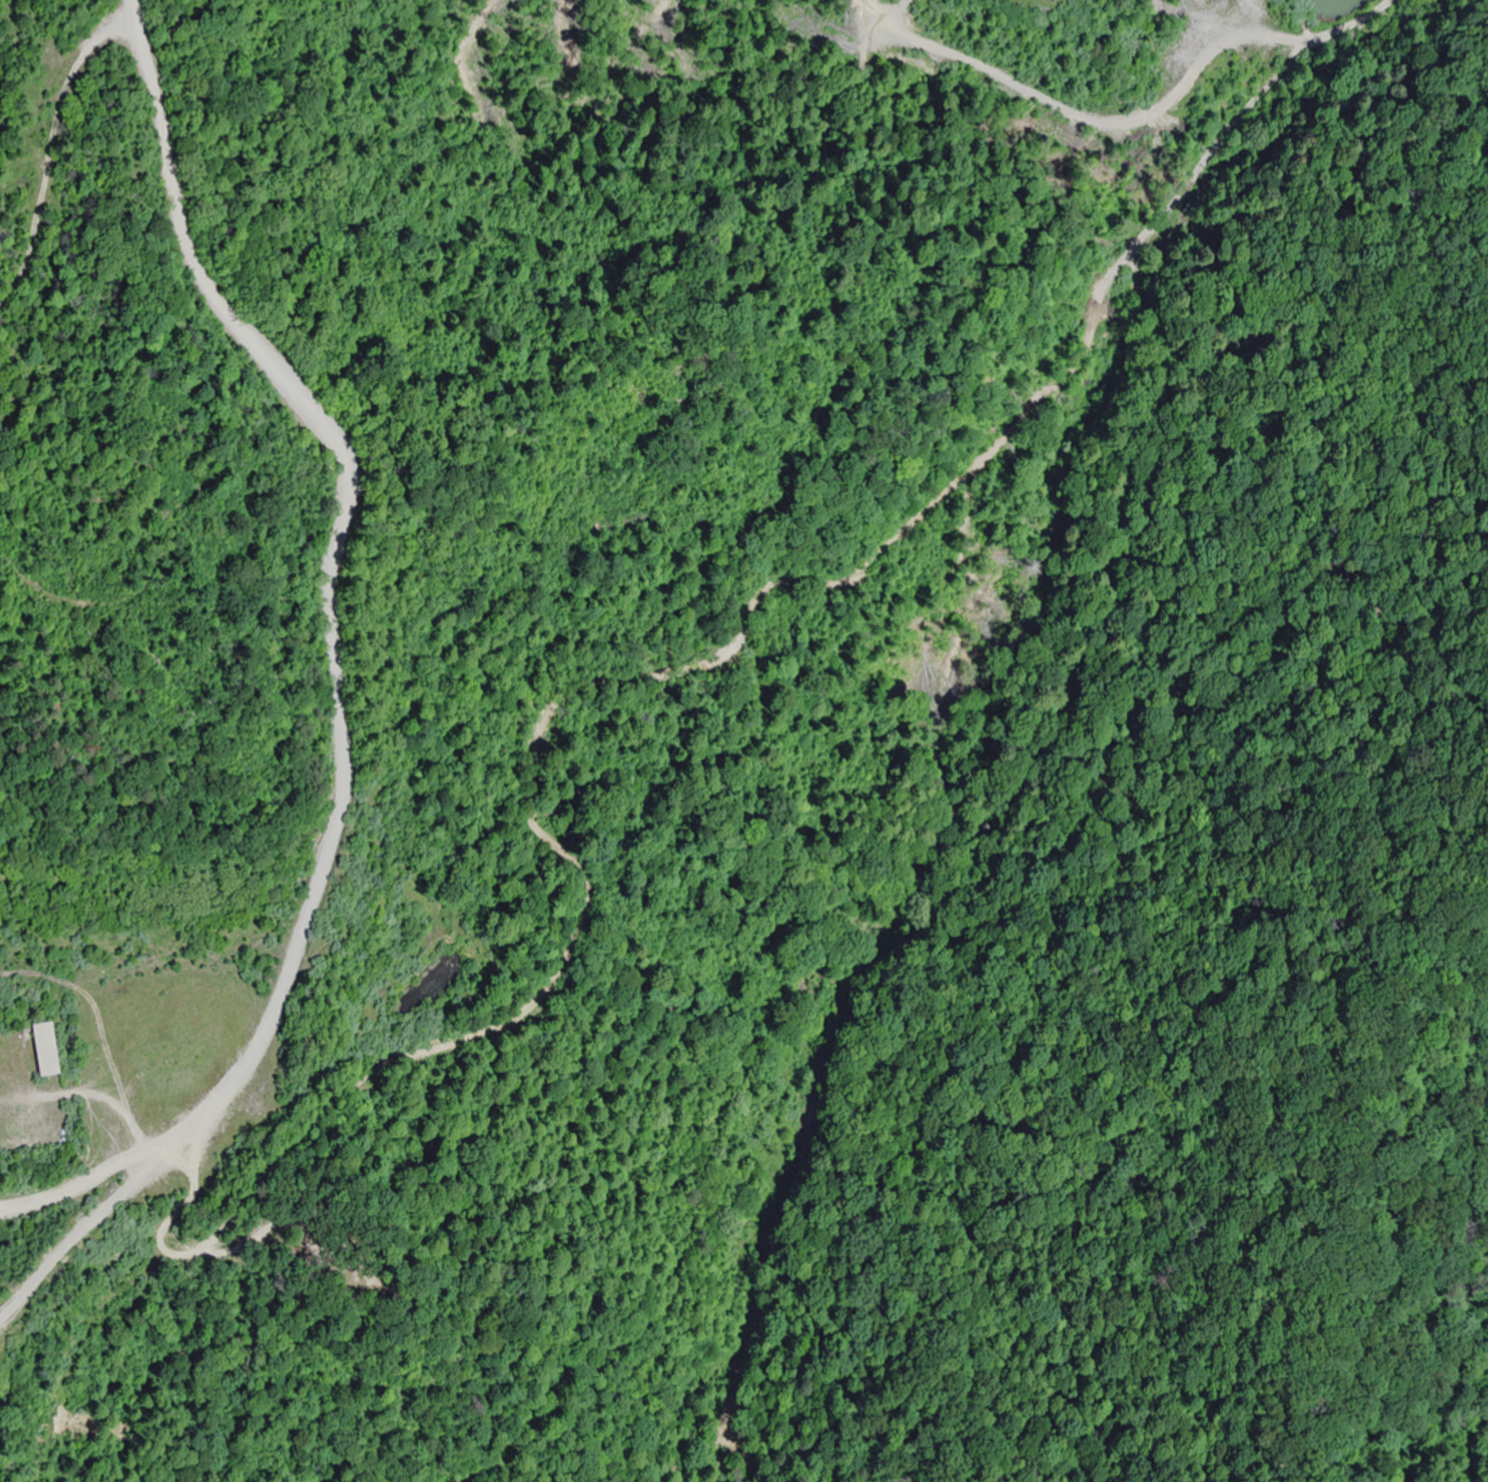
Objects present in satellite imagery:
road: (969, 764)
building: (79, 1011)
building: (42, 1049)

